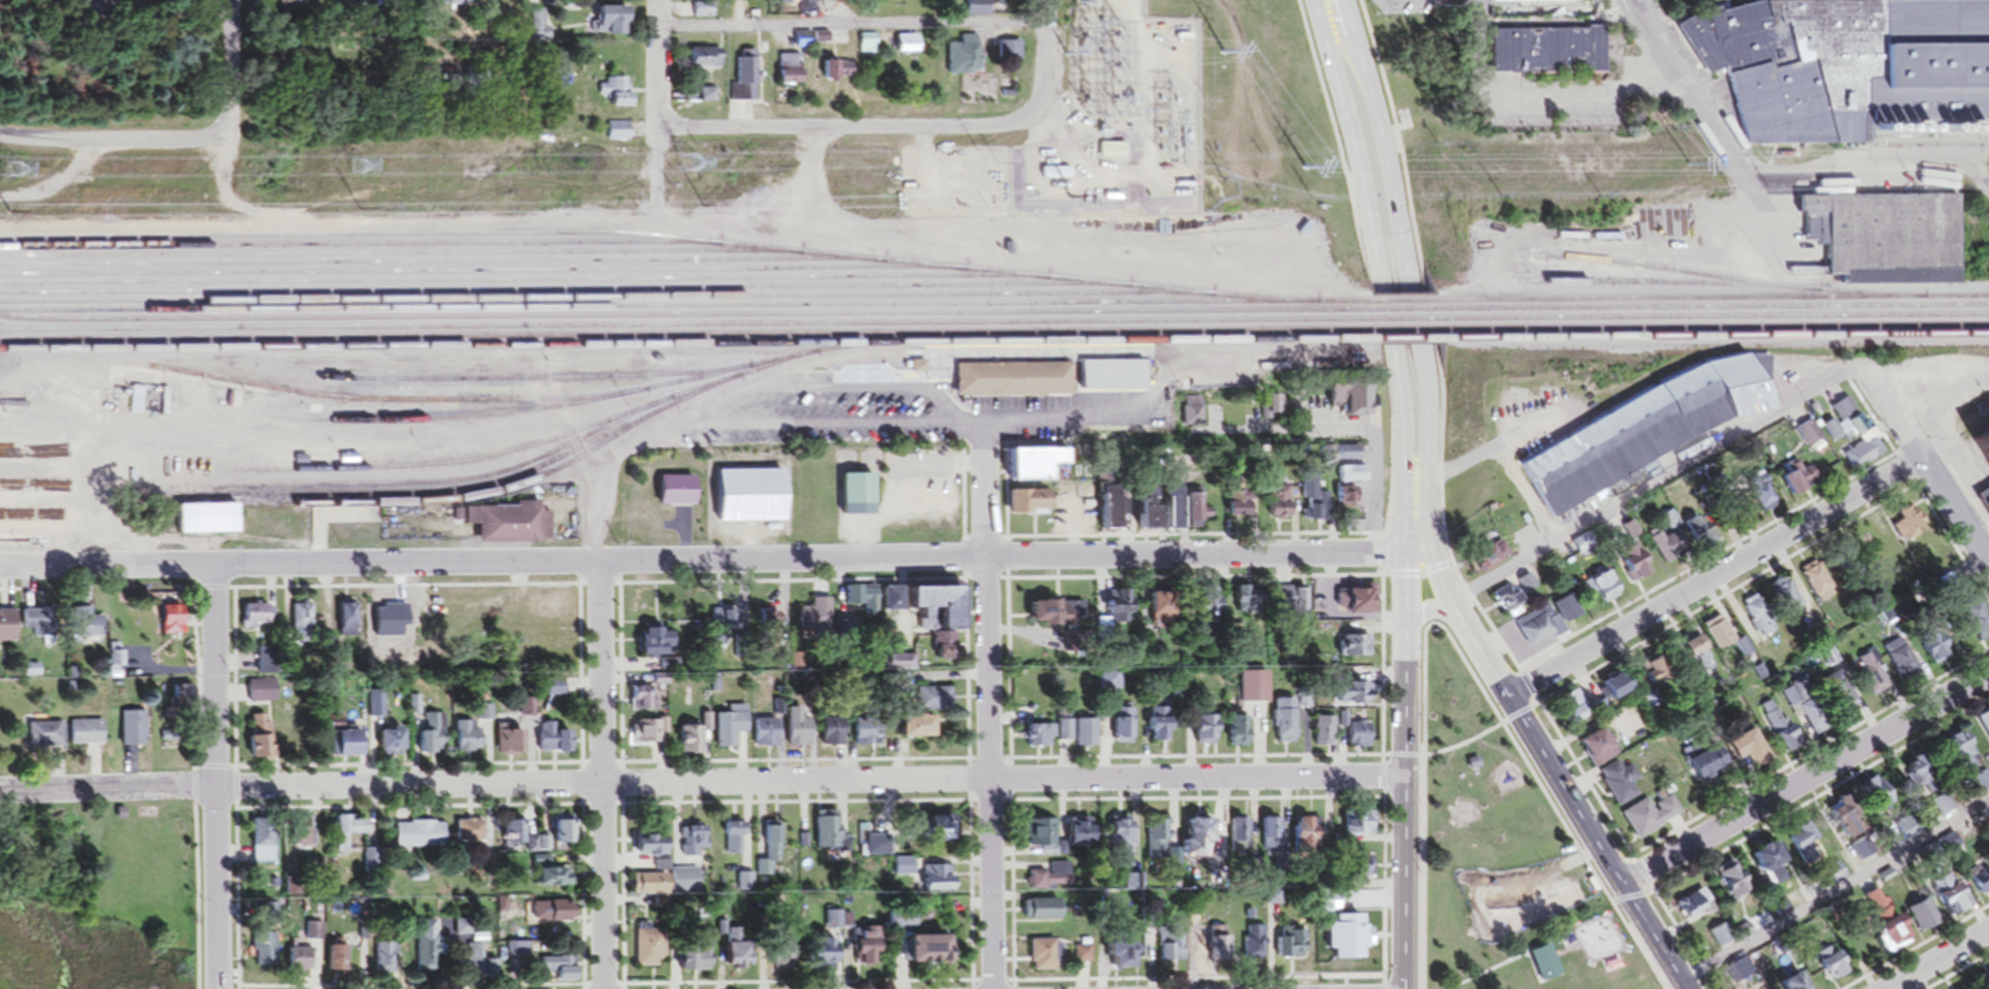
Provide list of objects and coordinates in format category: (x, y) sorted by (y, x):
building: (336, 1)
building: (836, 1)
building: (1004, 1)
building: (1537, 3)
building: (451, 4)
road: (1331, 7)
building: (803, 8)
building: (702, 14)
building: (614, 25)
road: (851, 27)
building: (540, 31)
building: (806, 43)
building: (909, 47)
building: (869, 48)
building: (1549, 54)
building: (1011, 55)
road: (1046, 55)
power tower: (1064, 58)
power tower: (1224, 58)
building: (965, 59)
building: (707, 62)
building: (1849, 73)
road: (658, 74)
building: (792, 74)
building: (840, 75)
building: (748, 82)
road: (1685, 89)
road: (1586, 90)
building: (618, 97)
building: (710, 99)
road: (862, 128)
building: (619, 135)
power substation: (1087, 137)
road: (178, 139)
building: (1115, 154)
power tower: (977, 155)
power tower: (1767, 158)
power tower: (1223, 163)
power tower: (691, 167)
power tower: (1687, 168)
power tower: (357, 170)
power tower: (1306, 172)
power tower: (13, 174)
power tower: (1078, 199)
power tower: (1594, 200)
power tower: (1226, 205)
railway: (657, 241)
building: (1893, 242)
railway: (358, 248)
railway: (399, 256)
railway: (441, 266)
railway: (481, 274)
road: (1406, 278)
railway: (1720, 280)
railway: (522, 283)
road: (1381, 283)
railway: (1663, 286)
railway: (563, 293)
railway: (605, 301)
railway: (1713, 302)
railway: (1404, 305)
railway: (684, 310)
railway: (1716, 311)
railway: (1407, 314)
railway: (685, 319)
railway: (1716, 321)
railway: (1409, 323)
railway: (687, 329)
railway: (1717, 331)
railway: (1410, 334)
railway: (688, 339)
railway: (1718, 340)
railway: (1413, 342)
railway: (689, 348)
railway: (1085, 348)
building: (920, 370)
building: (1110, 379)
railway: (522, 380)
building: (1016, 382)
railway: (431, 403)
building: (137, 405)
railway: (589, 405)
building: (1368, 406)
building: (1275, 408)
building: (1251, 410)
parking lot: (871, 417)
road: (698, 420)
building: (1850, 422)
road: (1030, 427)
road: (973, 428)
building: (1834, 434)
road: (1344, 435)
building: (1650, 435)
building: (1809, 436)
railway: (527, 450)
building: (49, 457)
building: (1865, 457)
road: (1923, 467)
building: (1039, 468)
building: (1802, 482)
road: (903, 486)
railway: (433, 487)
railway: (468, 491)
building: (861, 492)
road: (985, 493)
building: (680, 494)
road: (1631, 498)
building: (754, 499)
building: (1762, 499)
railway: (474, 500)
building: (1352, 500)
building: (1281, 505)
building: (1033, 506)
building: (1242, 507)
building: (1317, 509)
building: (1112, 512)
building: (1162, 513)
building: (1200, 514)
building: (211, 523)
building: (512, 527)
building: (1909, 528)
building: (1703, 537)
building: (1584, 549)
building: (1669, 549)
road: (716, 561)
building: (1492, 561)
building: (1636, 566)
building: (1848, 574)
road: (1713, 578)
road: (986, 583)
building: (1817, 585)
road: (599, 587)
building: (1606, 587)
building: (1527, 588)
road: (187, 592)
building: (1213, 600)
building: (1292, 601)
building: (1788, 601)
building: (1251, 602)
building: (1365, 602)
building: (1510, 604)
building: (1165, 607)
building: (1119, 609)
building: (862, 612)
building: (1058, 616)
building: (817, 618)
building: (259, 619)
building: (933, 620)
building: (1759, 620)
building: (1978, 624)
building: (175, 625)
building: (771, 625)
building: (40, 626)
building: (91, 626)
building: (302, 626)
building: (724, 628)
building: (8, 630)
building: (1536, 631)
building: (1724, 640)
building: (661, 645)
building: (1356, 650)
building: (1700, 657)
building: (1900, 659)
building: (1655, 674)
building: (1872, 680)
building: (1110, 683)
building: (1255, 690)
building: (1619, 690)
building: (556, 692)
building: (264, 694)
building: (649, 697)
building: (1356, 697)
building: (935, 702)
building: (183, 710)
building: (1575, 711)
building: (1814, 720)
building: (1286, 725)
building: (1125, 728)
building: (1984, 728)
building: (800, 730)
building: (731, 731)
building: (920, 731)
building: (1780, 731)
building: (136, 732)
building: (1163, 732)
building: (650, 734)
building: (1208, 734)
building: (833, 735)
building: (1241, 735)
building: (1325, 735)
building: (46, 736)
building: (89, 736)
building: (1080, 736)
building: (768, 737)
building: (869, 737)
building: (470, 740)
building: (1040, 740)
building: (1360, 740)
building: (557, 742)
building: (510, 743)
building: (693, 743)
building: (432, 744)
building: (392, 745)
building: (352, 748)
building: (1599, 751)
building: (1752, 755)
building: (1964, 757)
road: (1382, 758)
road: (967, 765)
building: (1706, 766)
road: (582, 767)
road: (580, 768)
road: (1405, 772)
road: (1555, 773)
road: (987, 774)
road: (603, 775)
road: (216, 777)
road: (1806, 779)
road: (702, 782)
building: (1933, 785)
building: (1618, 787)
road: (412, 809)
building: (1652, 819)
building: (1360, 826)
building: (1851, 831)
building: (301, 833)
building: (1309, 833)
building: (349, 834)
building: (516, 834)
building: (565, 834)
building: (940, 834)
building: (473, 836)
building: (1083, 836)
building: (1043, 837)
building: (1271, 837)
park: (1494, 837)
building: (420, 838)
building: (831, 839)
building: (1239, 839)
building: (736, 840)
building: (1199, 842)
building: (1125, 843)
building: (1160, 843)
building: (264, 844)
building: (695, 844)
building: (654, 848)
building: (1806, 848)
building: (879, 851)
building: (771, 852)
building: (373, 865)
building: (1772, 868)
building: (556, 880)
building: (937, 883)
building: (1052, 884)
building: (1733, 884)
building: (1980, 884)
building: (744, 885)
building: (667, 886)
road: (1834, 886)
building: (293, 891)
road: (195, 897)
building: (1952, 899)
building: (1696, 908)
building: (1878, 909)
building: (1044, 913)
building: (556, 915)
building: (1925, 919)
building: (833, 923)
building: (902, 924)
building: (463, 932)
building: (1897, 937)
building: (1351, 940)
building: (1722, 940)
building: (1219, 946)
building: (1255, 947)
building: (1295, 947)
building: (425, 950)
building: (1172, 950)
building: (652, 951)
building: (869, 951)
building: (265, 953)
building: (933, 955)
building: (740, 956)
building: (825, 956)
building: (475, 958)
building: (1085, 958)
building: (1128, 959)
building: (1045, 960)
road: (1939, 960)
building: (387, 961)
building: (696, 961)
building: (339, 962)
building: (783, 962)
building: (301, 963)
building: (1833, 969)
building: (560, 972)
building: (1798, 984)
building: (1987, 988)

